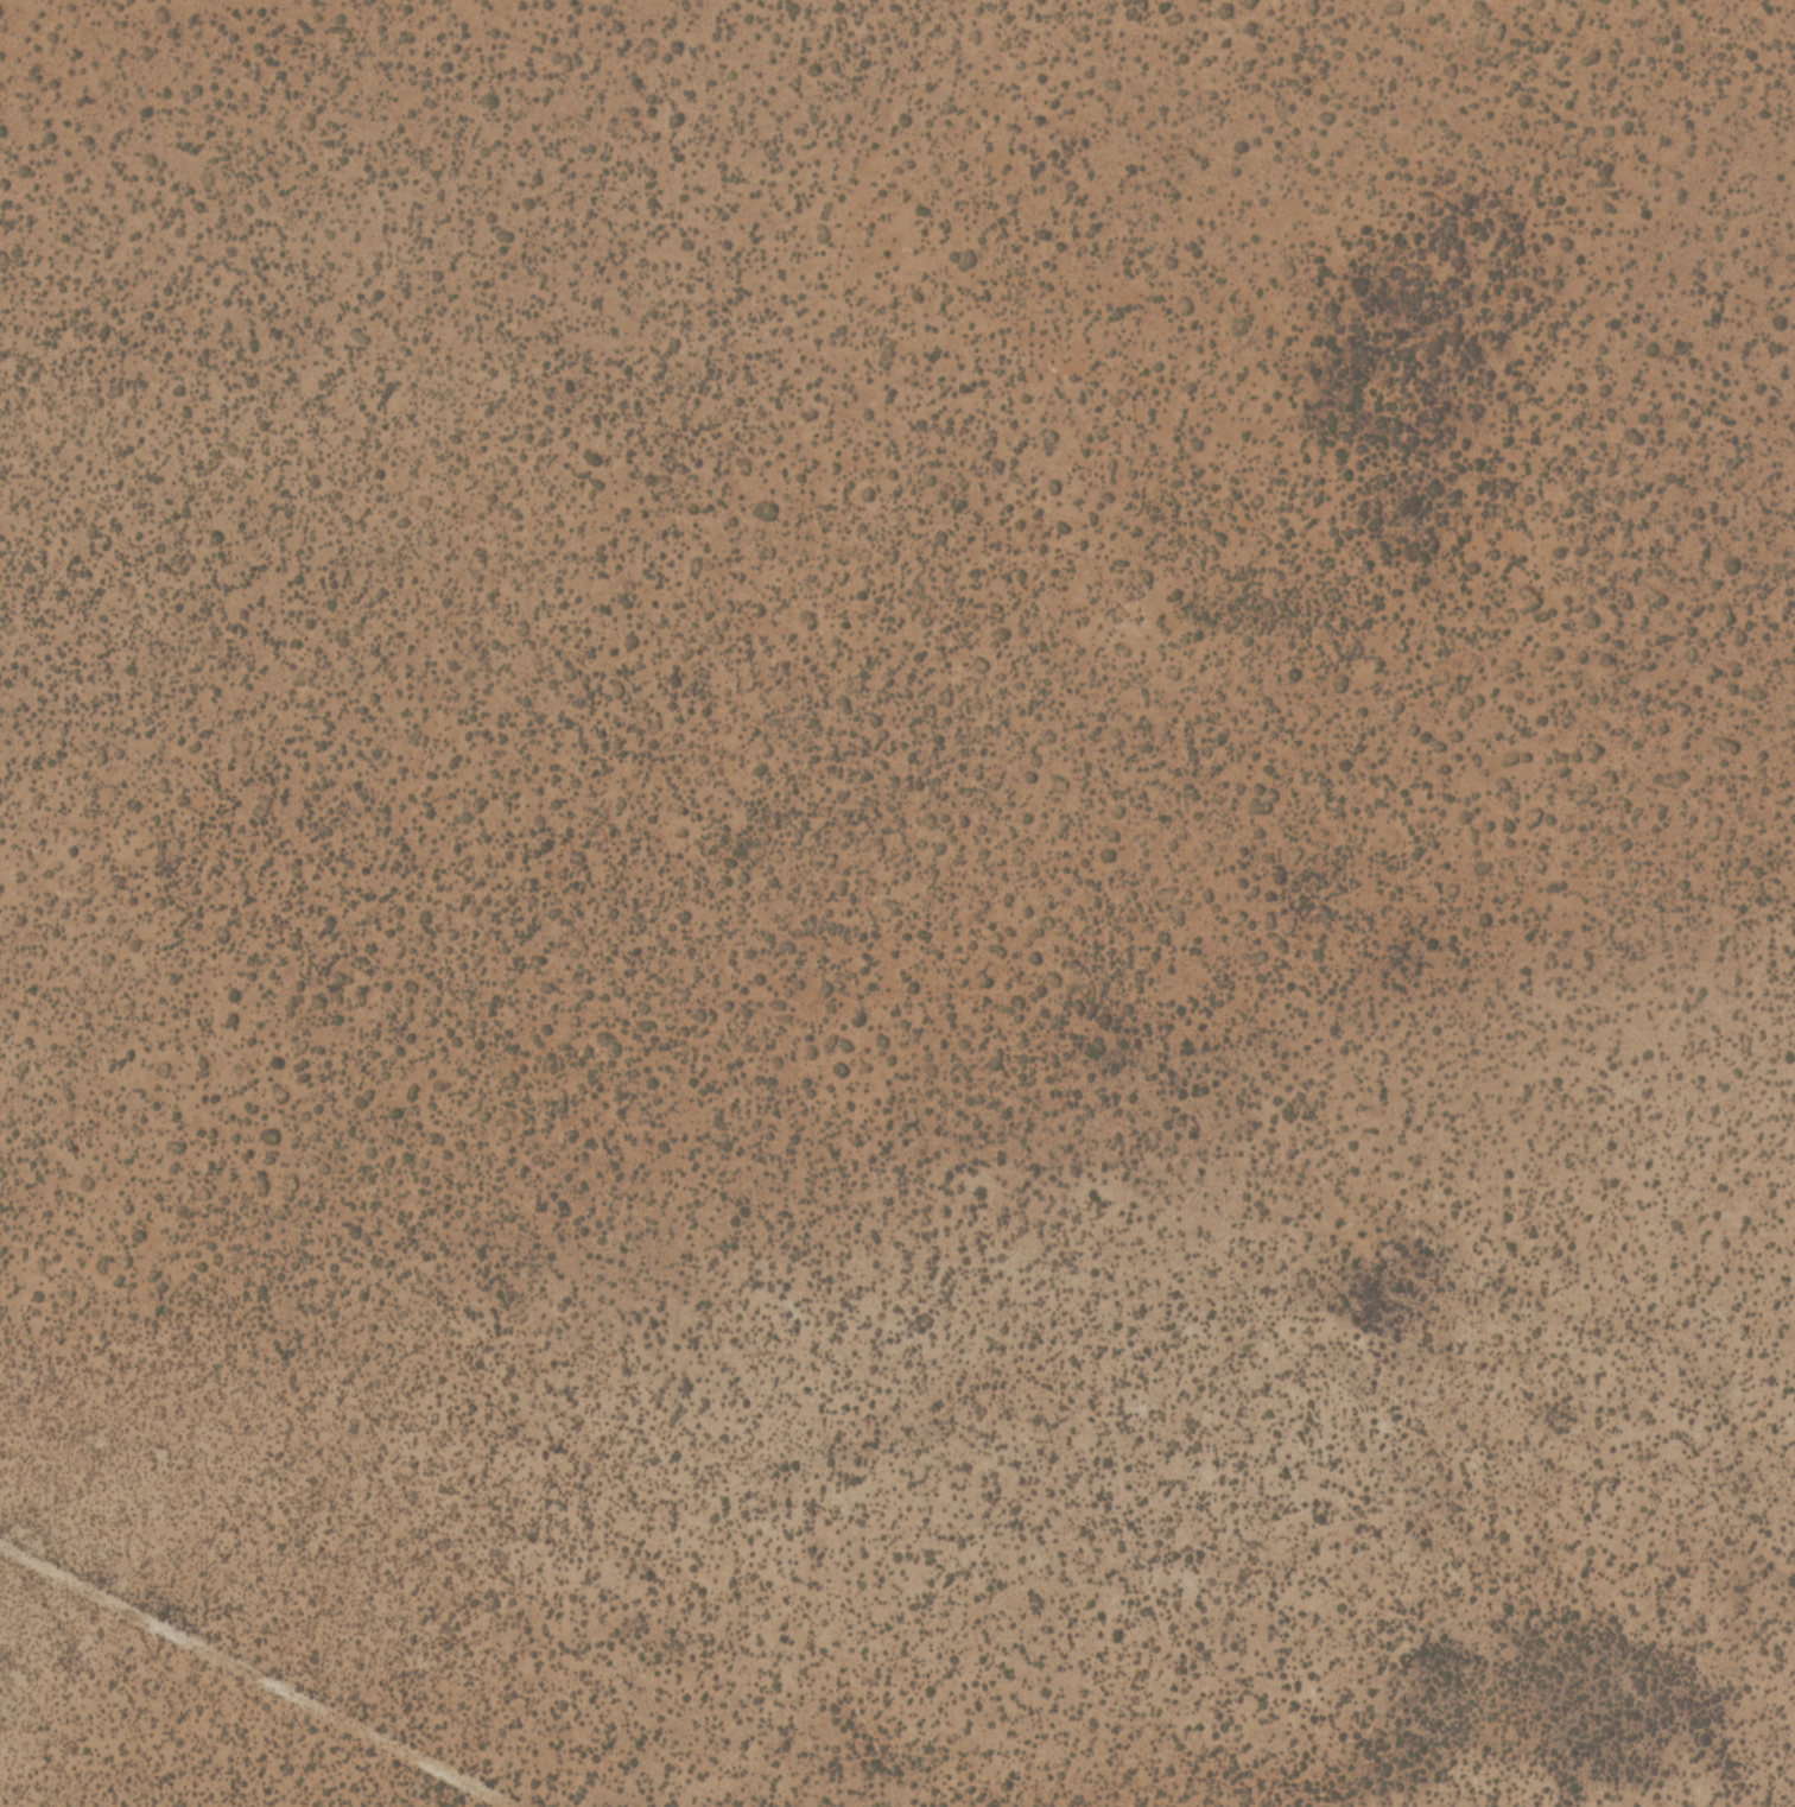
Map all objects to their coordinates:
road: (26, 1568)

